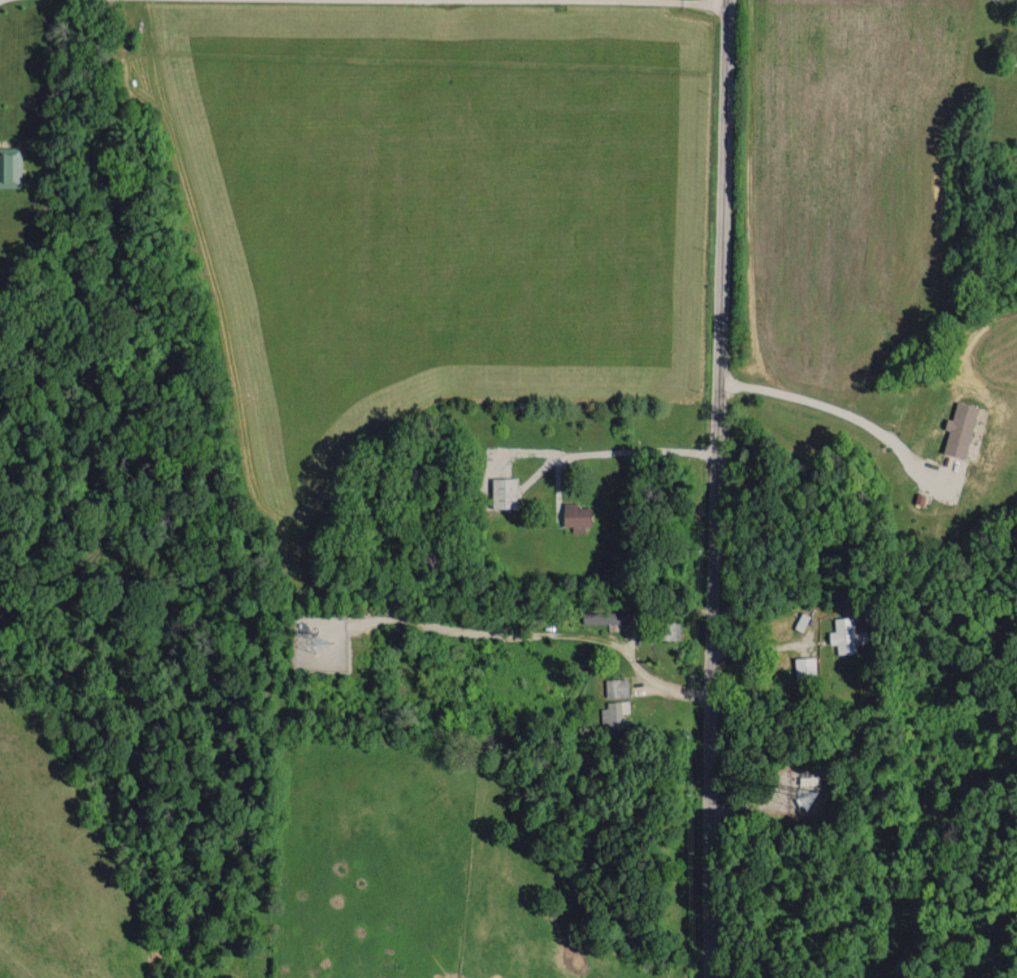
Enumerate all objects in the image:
road: (670, 0)
building: (1014, 52)
building: (10, 166)
road: (845, 412)
building: (960, 429)
road: (625, 449)
road: (715, 488)
building: (503, 492)
building: (576, 516)
building: (604, 617)
building: (843, 635)
building: (805, 666)
building: (616, 687)
building: (614, 713)

